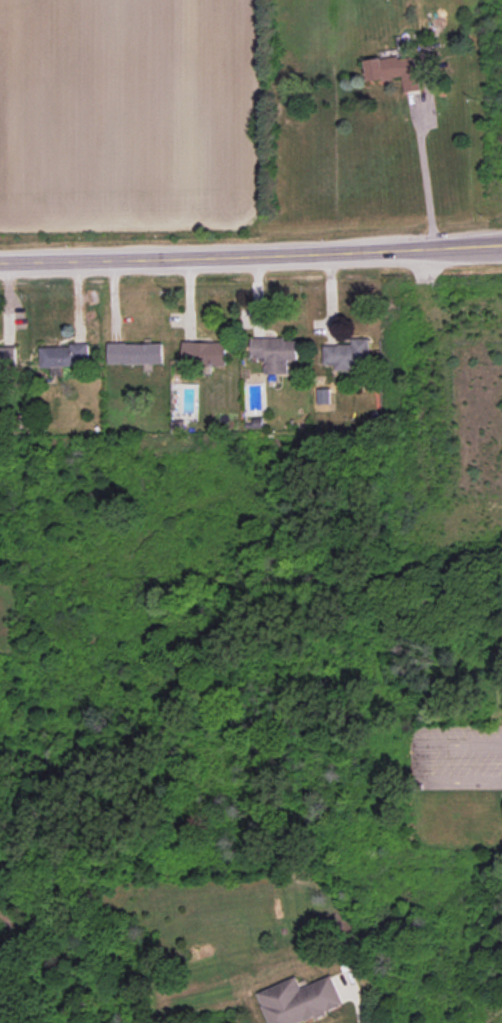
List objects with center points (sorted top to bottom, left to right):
building: (395, 70)
road: (426, 180)
road: (251, 253)
building: (135, 353)
building: (206, 353)
building: (274, 353)
building: (347, 354)
building: (64, 355)
building: (7, 358)
road: (422, 760)
building: (299, 1000)
road: (356, 1001)

